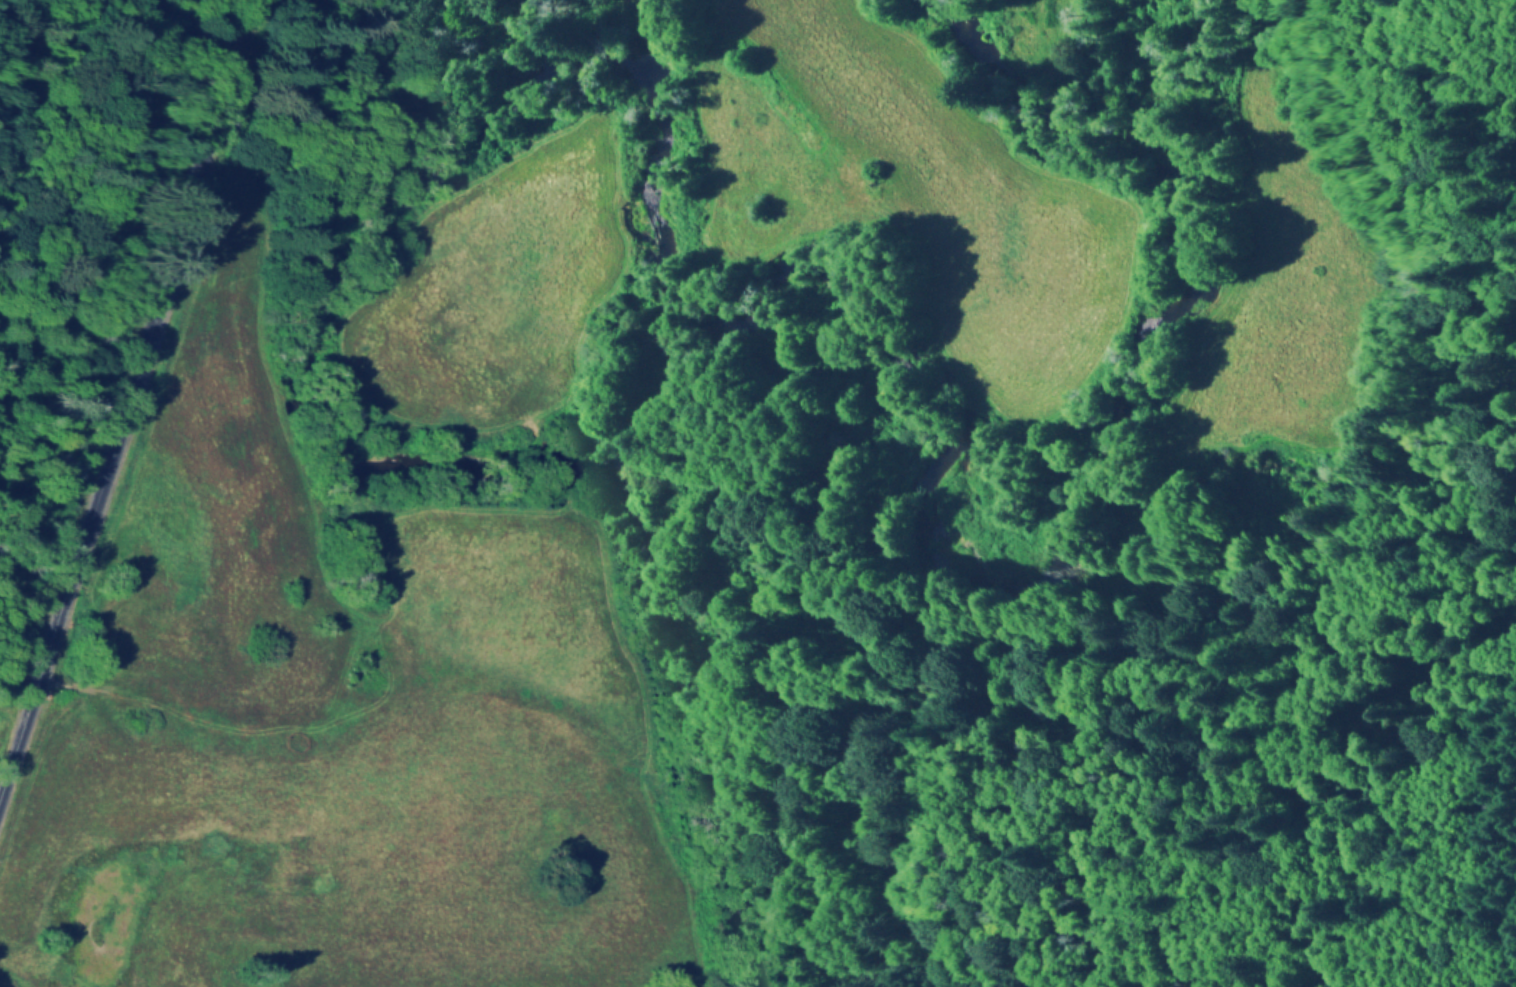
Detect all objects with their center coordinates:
road: (134, 398)

